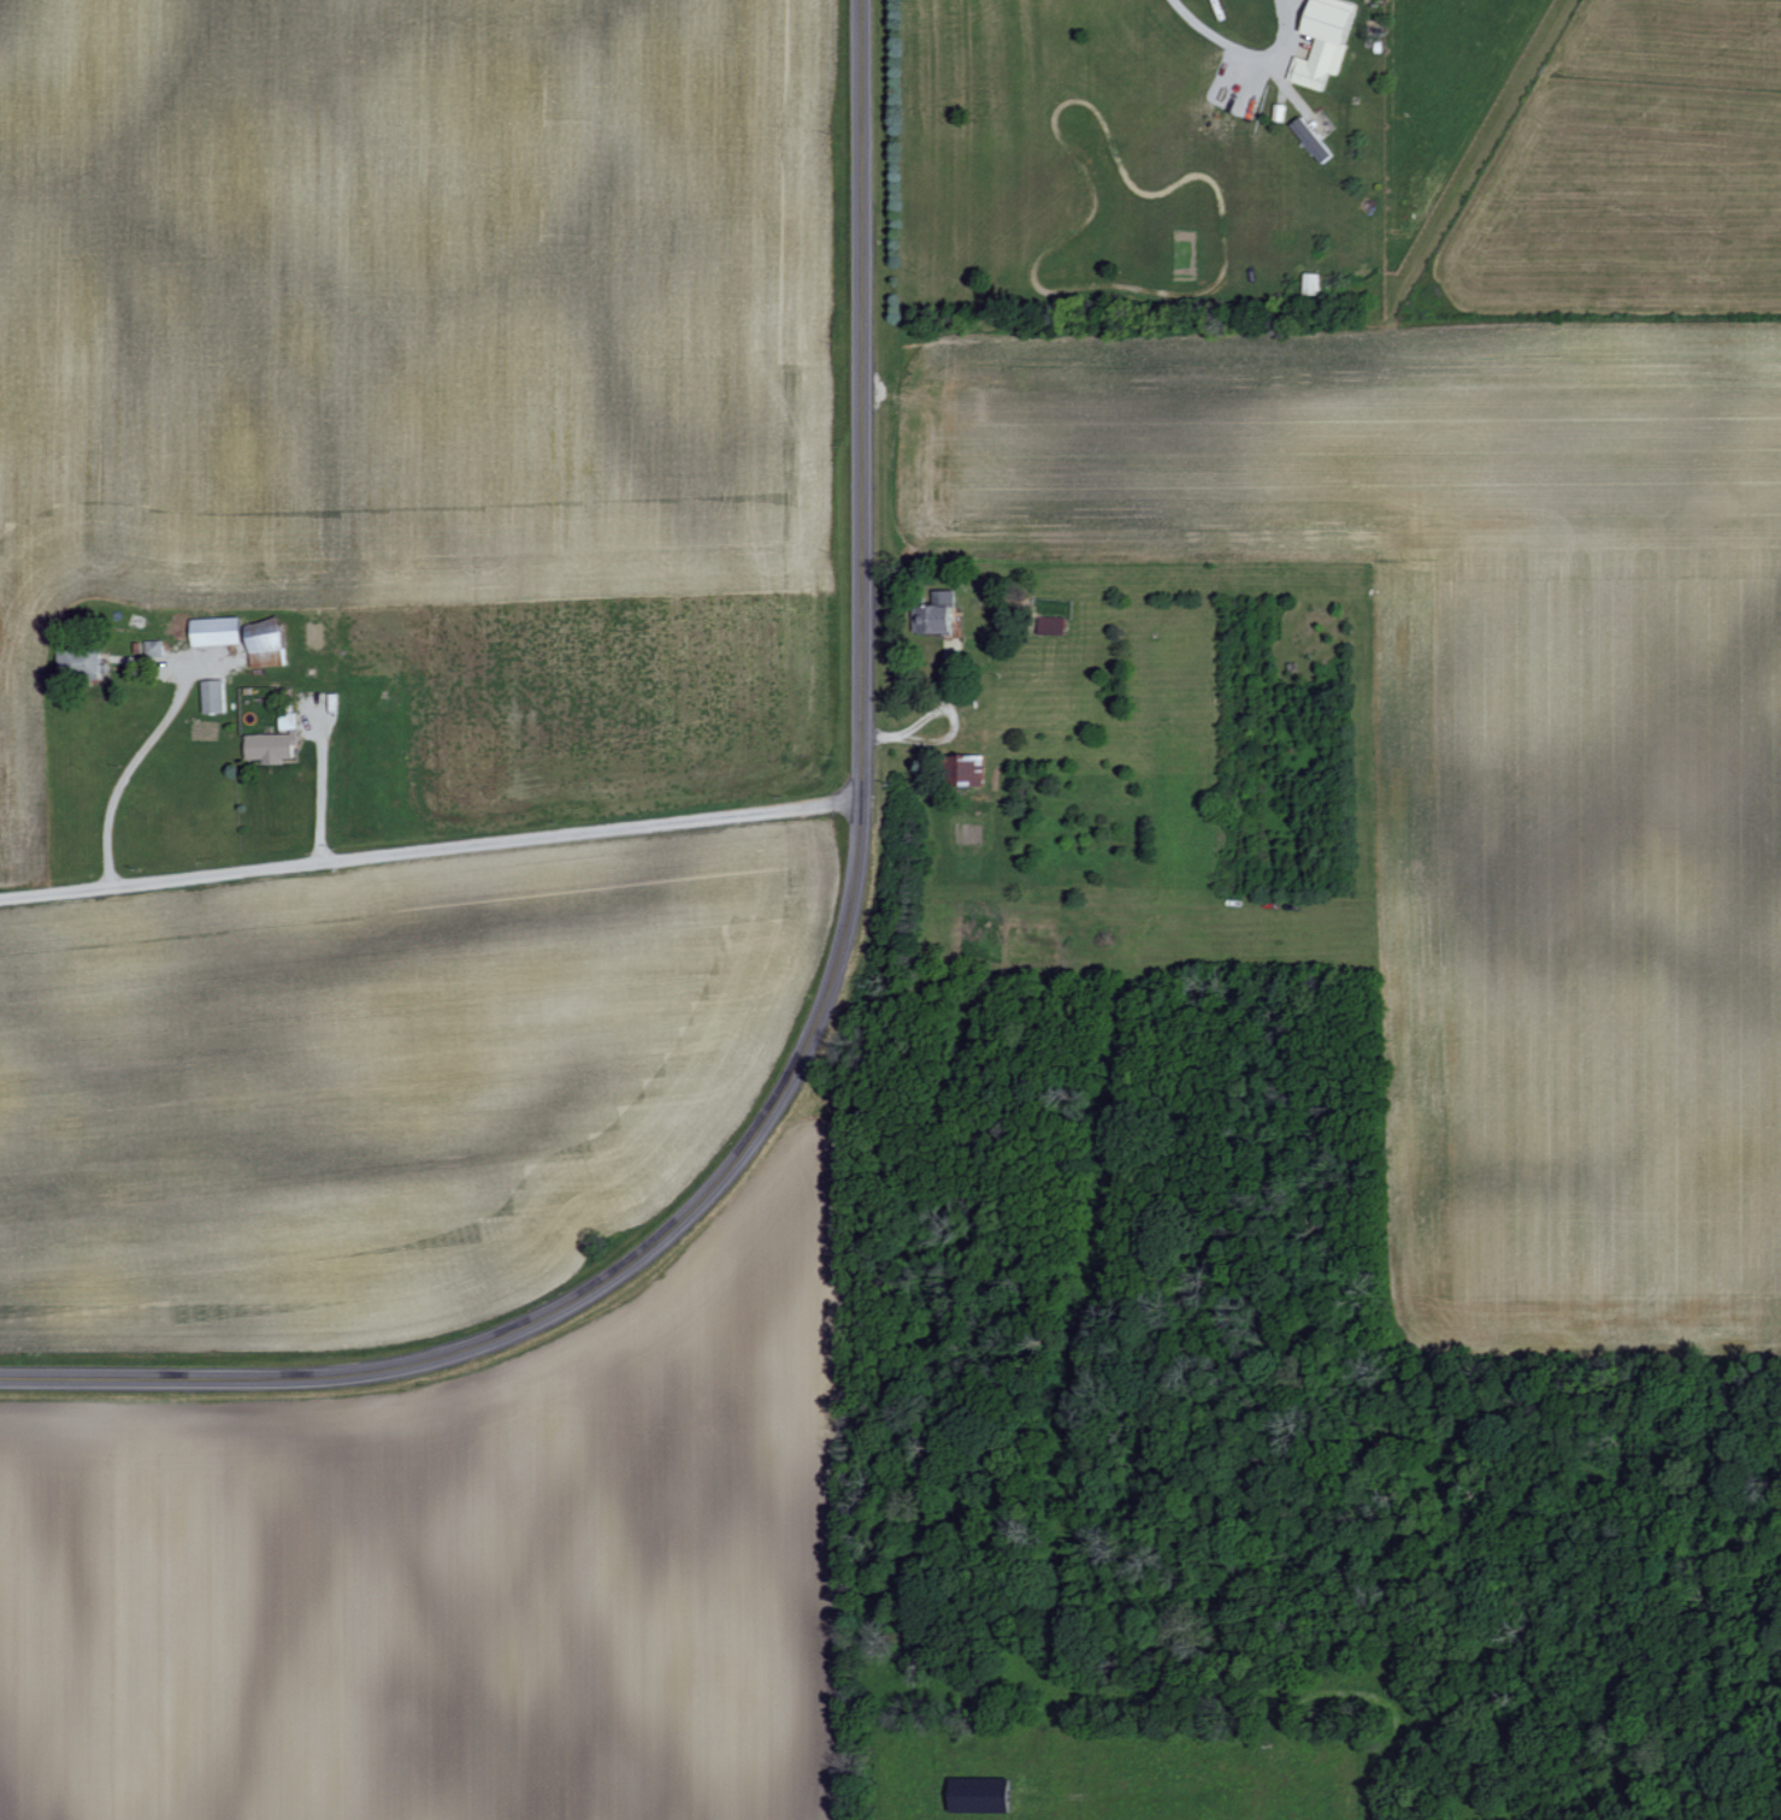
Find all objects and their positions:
building: (1323, 41)
road: (1245, 53)
building: (1310, 138)
building: (1310, 282)
building: (936, 611)
building: (216, 630)
building: (265, 646)
building: (213, 695)
building: (273, 741)
road: (129, 767)
building: (967, 768)
road: (319, 779)
road: (430, 849)
road: (830, 994)
building: (980, 1795)

